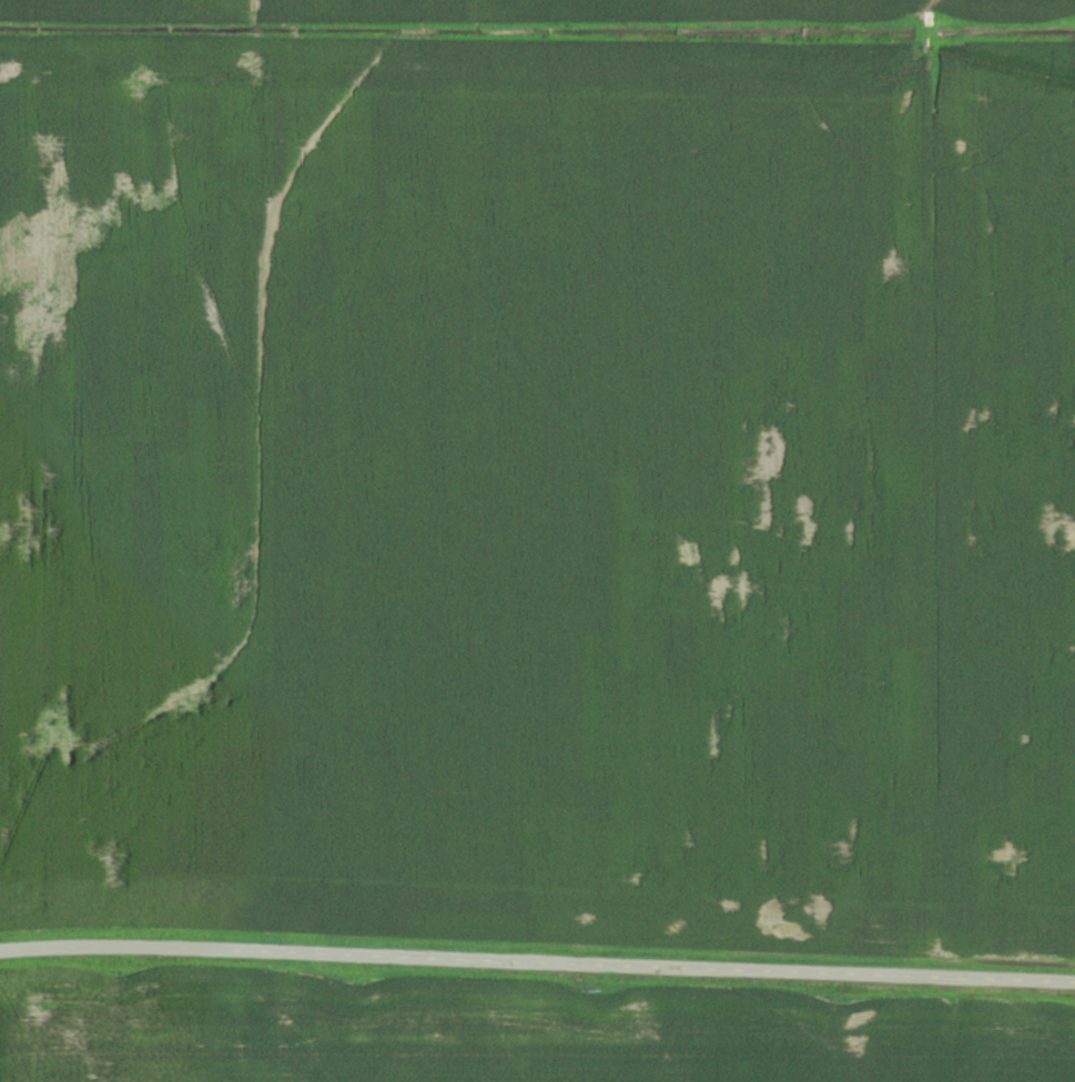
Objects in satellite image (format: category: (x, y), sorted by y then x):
road: (537, 961)

